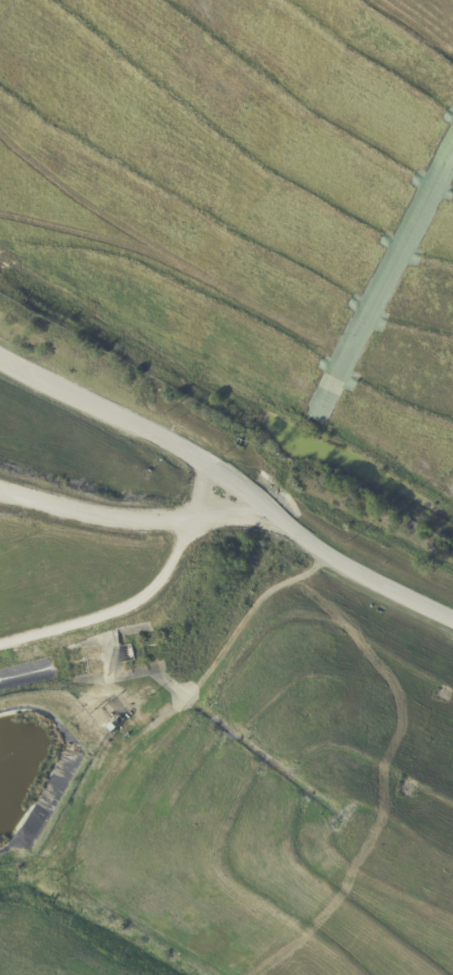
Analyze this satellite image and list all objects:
landfill: (252, 194)
road: (224, 461)
landfill: (82, 509)
road: (145, 592)
building: (105, 727)
building: (114, 728)
landfill: (242, 799)

